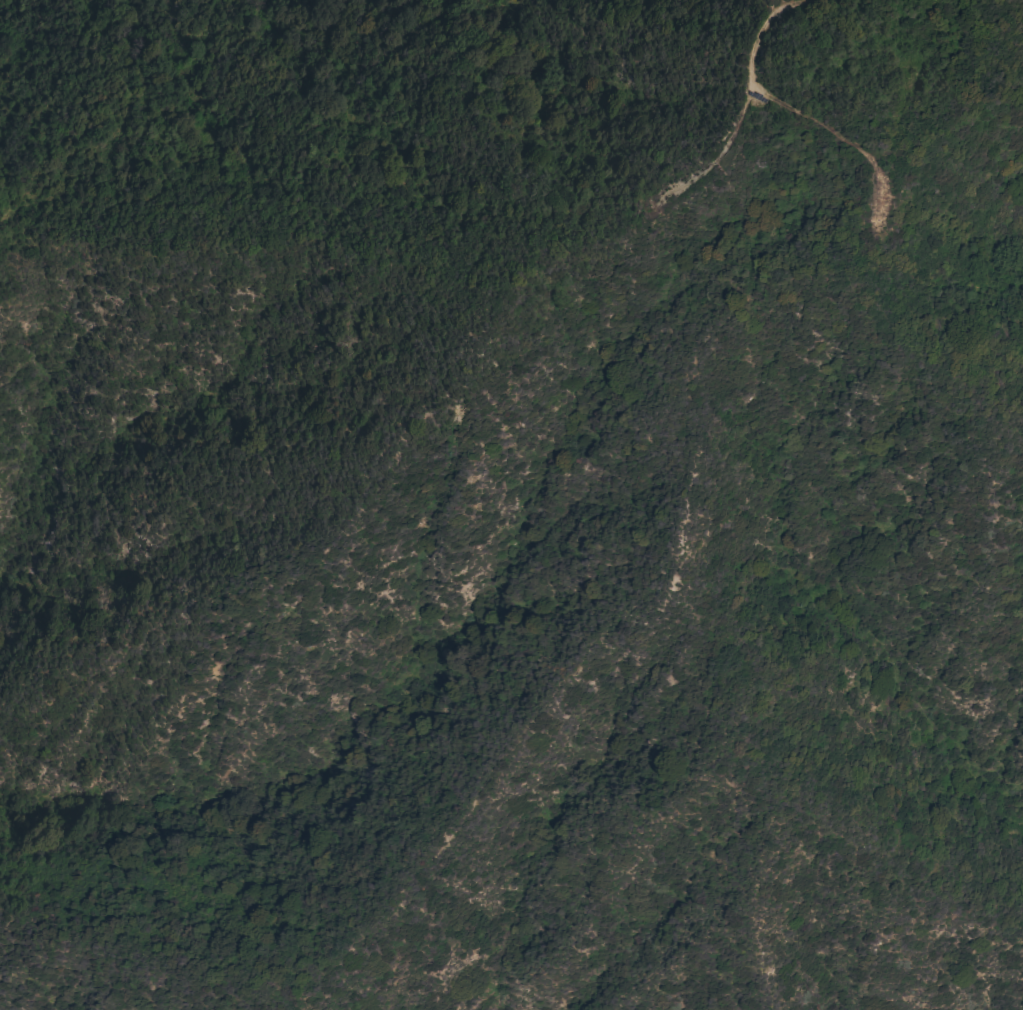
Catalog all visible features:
road: (797, 115)

